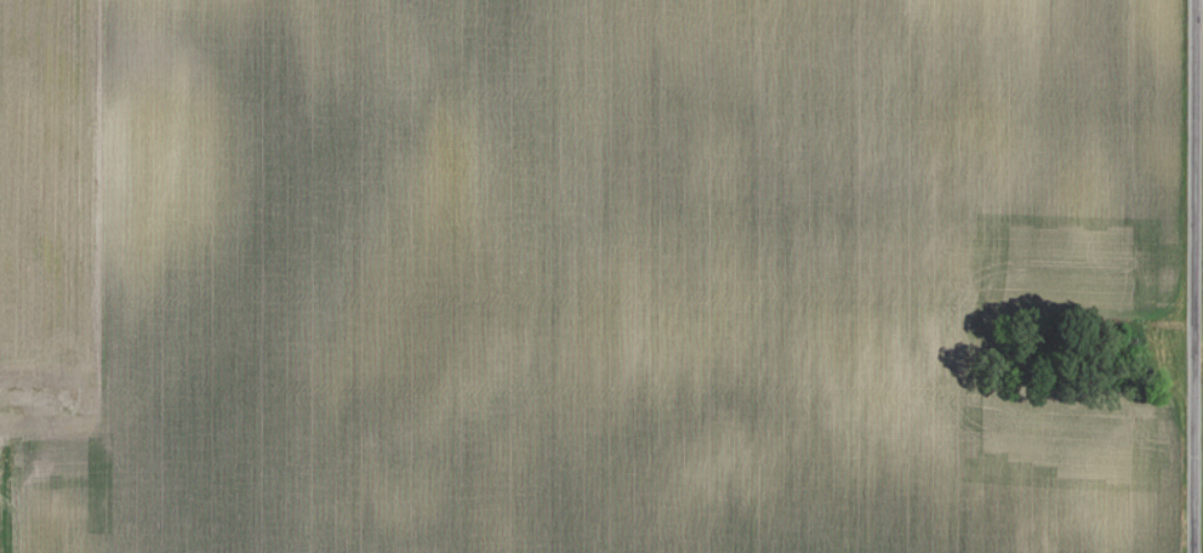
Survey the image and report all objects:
road: (1190, 276)

